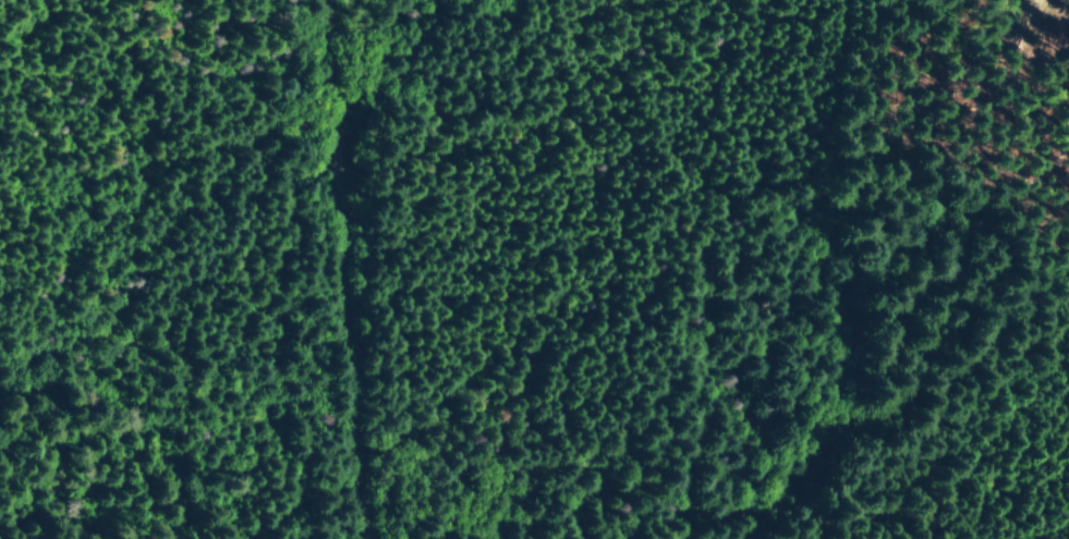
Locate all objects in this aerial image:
road: (1048, 20)
road: (349, 269)

